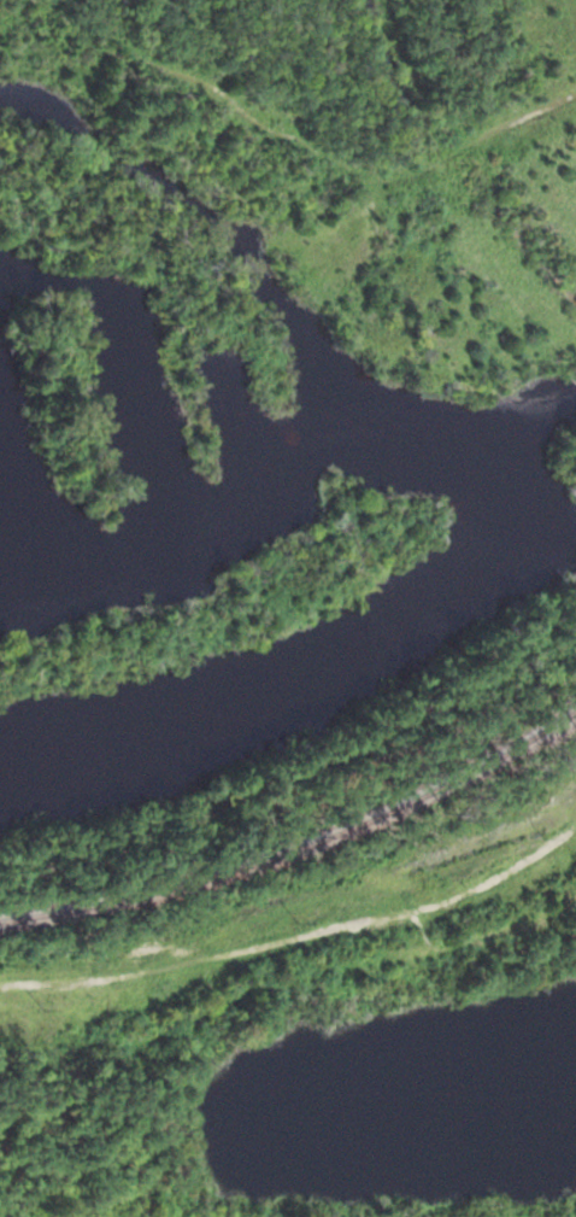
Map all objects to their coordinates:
power tower: (546, 837)
railway: (299, 843)
power tower: (299, 923)
power tower: (45, 1007)

